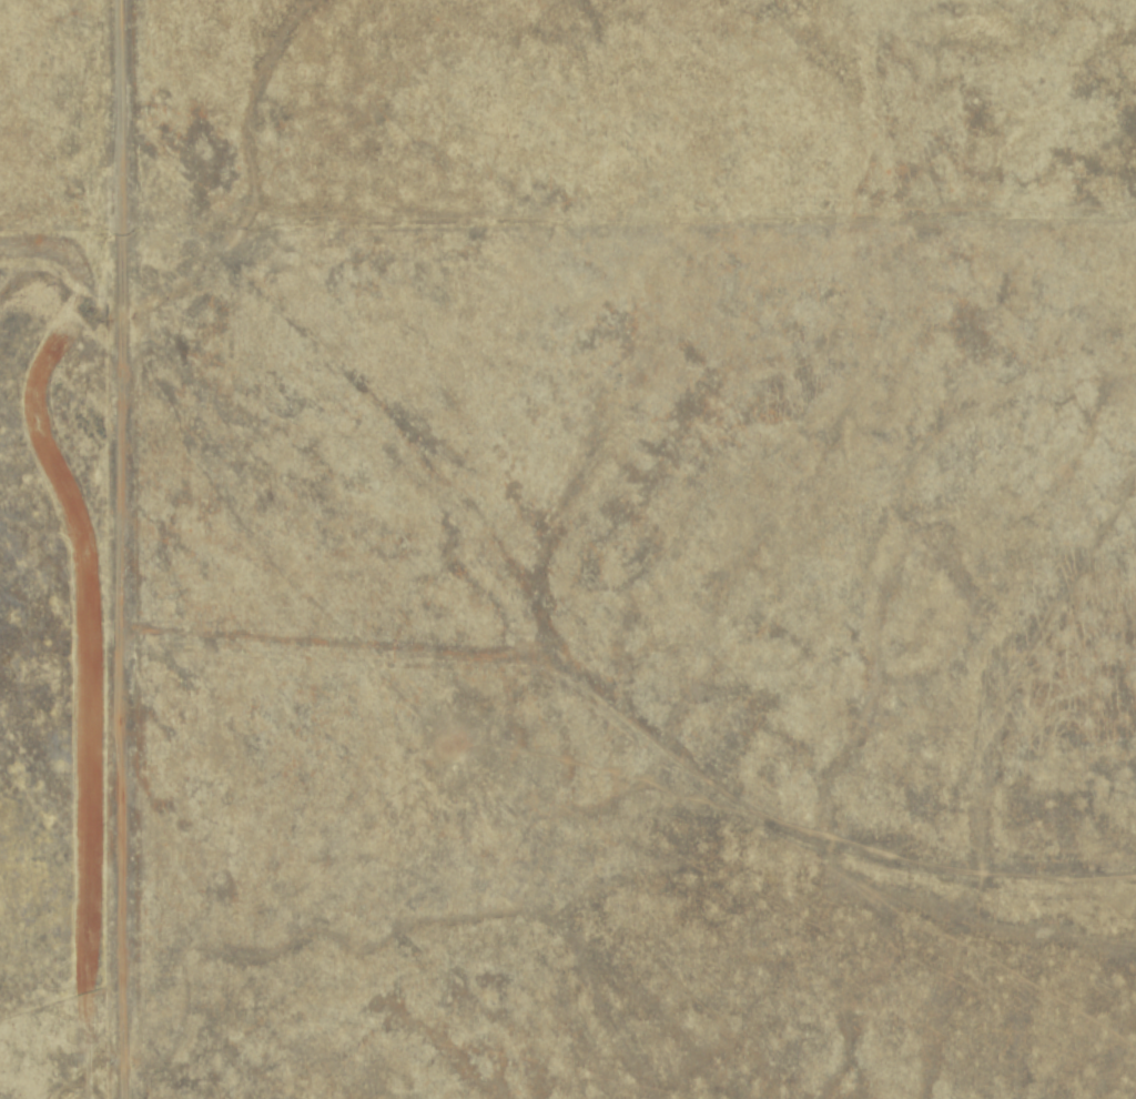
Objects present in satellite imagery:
road: (120, 549)
airport: (60, 669)
road: (639, 722)

